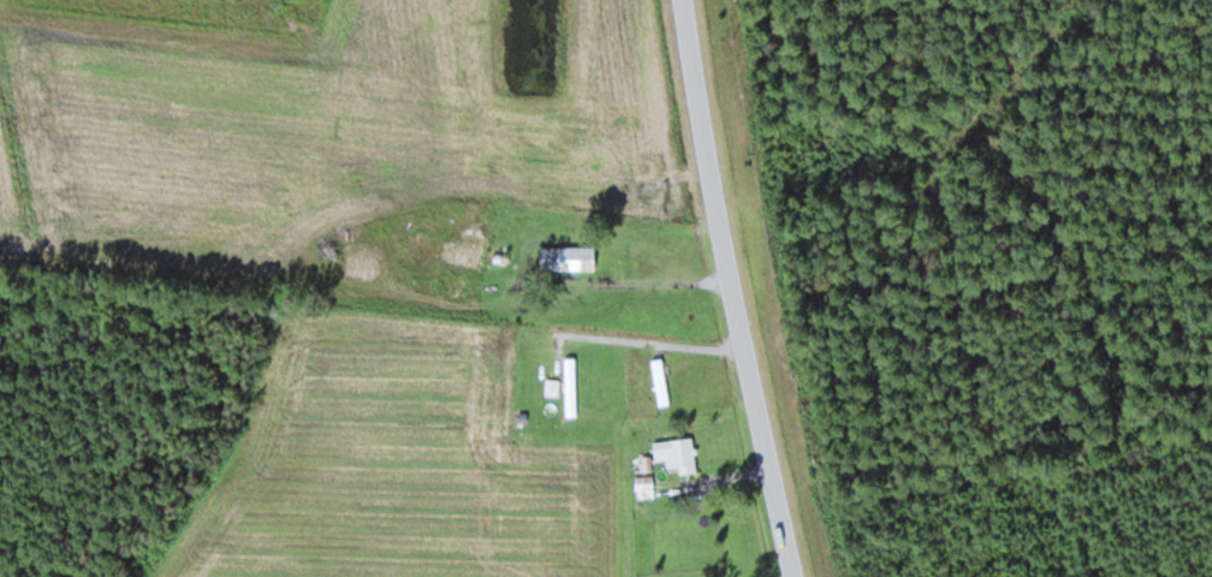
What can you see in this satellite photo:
building: (479, 231)
building: (364, 242)
building: (568, 256)
road: (739, 288)
building: (661, 385)
building: (571, 387)
building: (677, 453)

